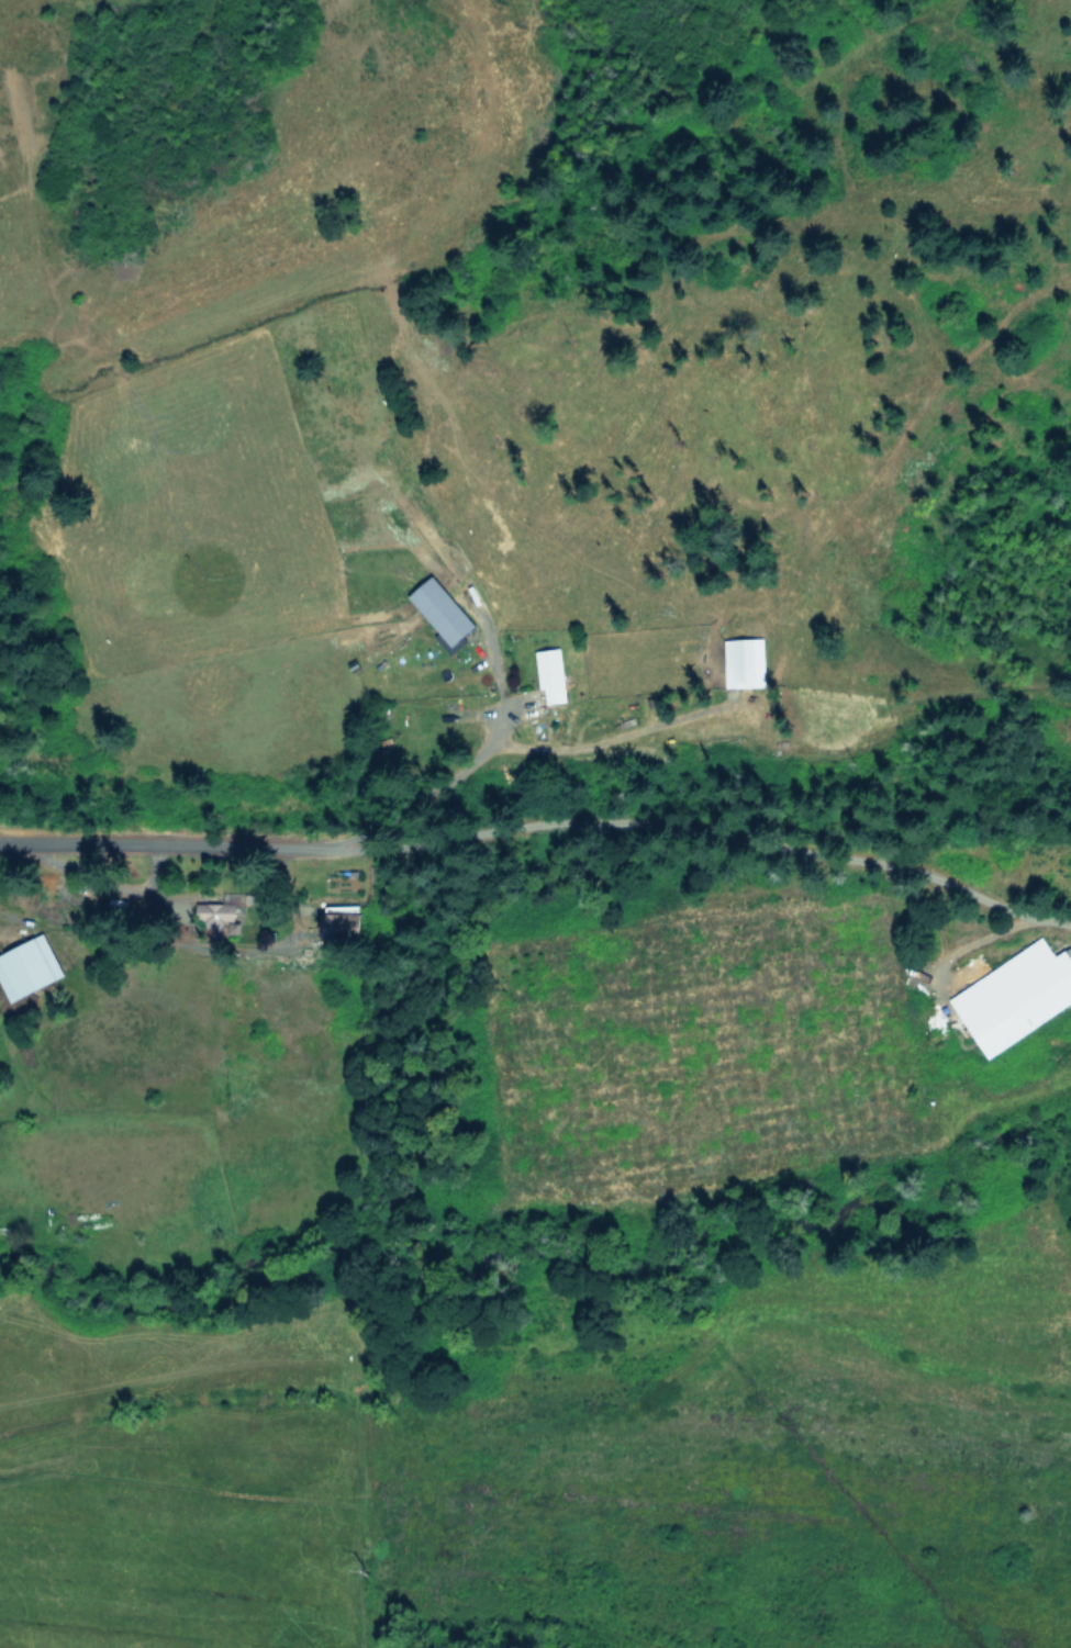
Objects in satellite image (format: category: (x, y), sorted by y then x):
building: (443, 609)
building: (746, 661)
building: (551, 673)
road: (499, 685)
road: (606, 739)
road: (727, 830)
road: (258, 844)
building: (210, 920)
building: (343, 924)
building: (29, 967)
building: (1015, 995)
crop: (566, 1466)

